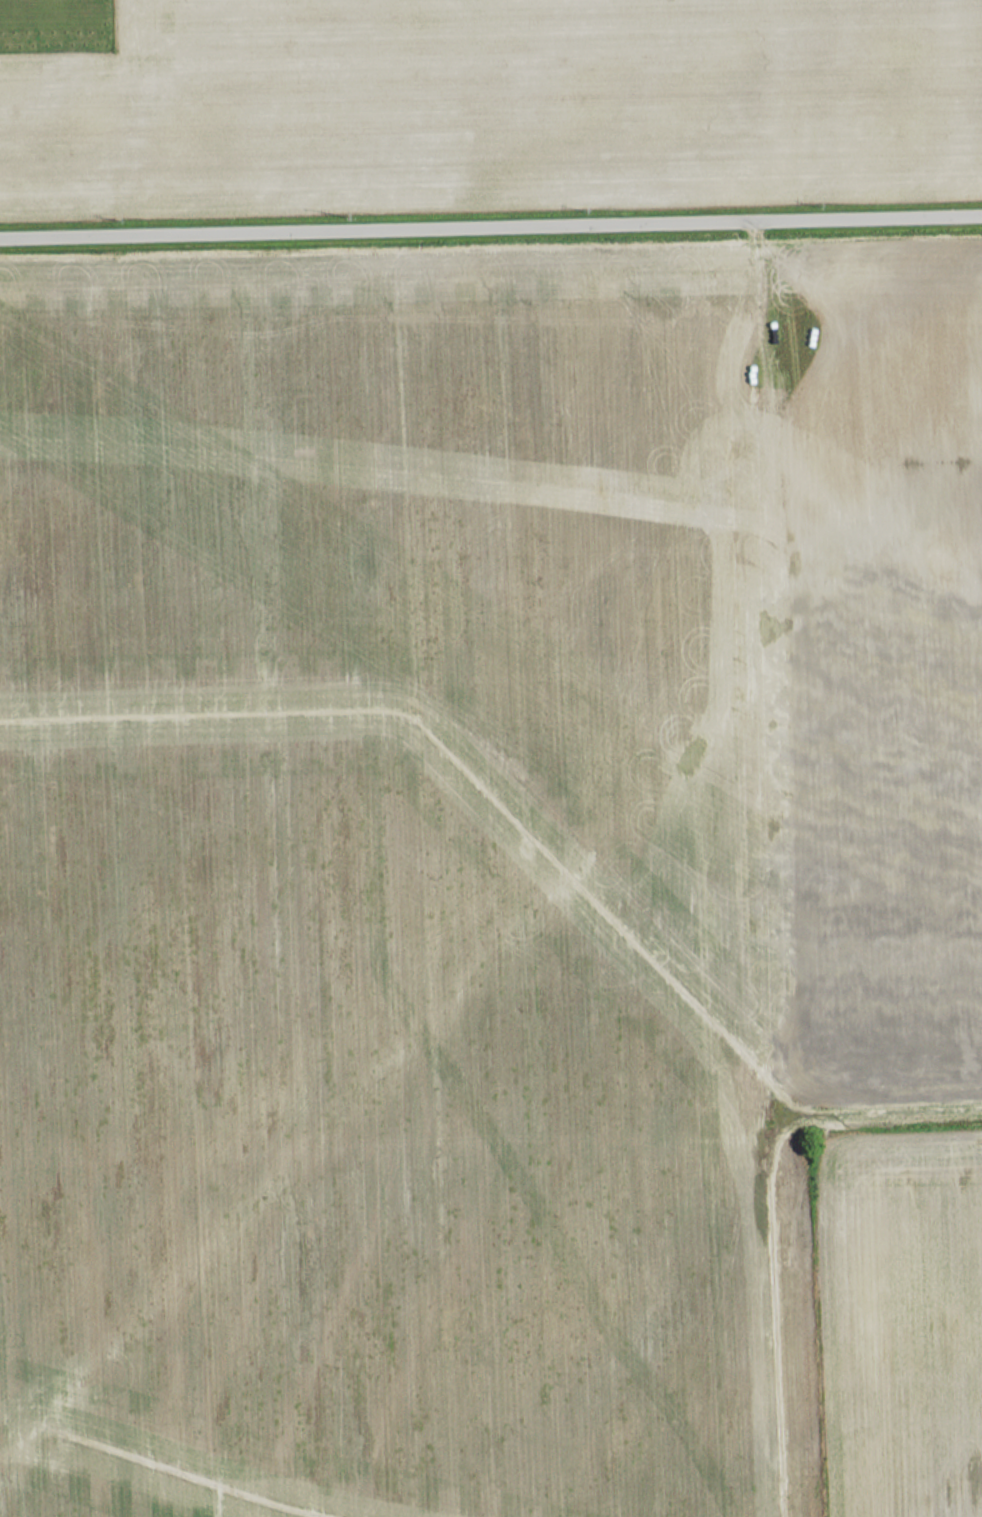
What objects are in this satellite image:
road: (491, 223)

